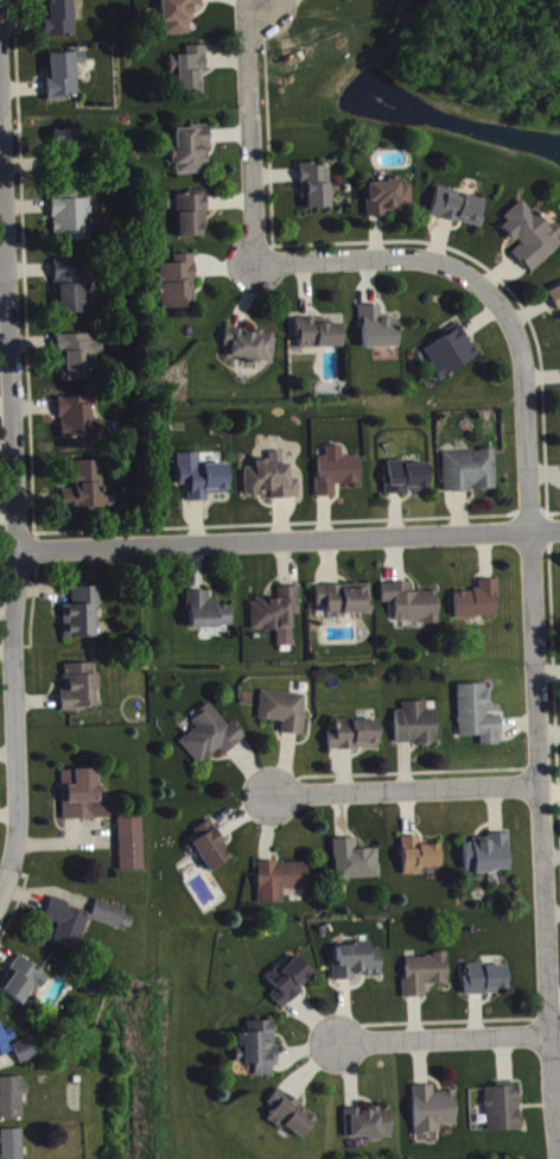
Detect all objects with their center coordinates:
building: (345, 0)
building: (179, 19)
building: (61, 21)
building: (190, 77)
building: (64, 81)
road: (0, 132)
road: (249, 132)
building: (191, 156)
building: (65, 158)
building: (316, 191)
building: (389, 203)
building: (458, 214)
building: (191, 222)
building: (72, 224)
building: (529, 241)
road: (2, 261)
building: (65, 277)
building: (178, 290)
building: (70, 304)
building: (556, 304)
building: (378, 335)
building: (318, 341)
building: (249, 351)
building: (448, 360)
building: (78, 363)
building: (78, 429)
building: (337, 477)
building: (470, 477)
building: (406, 483)
building: (272, 484)
building: (204, 487)
building: (89, 496)
road: (14, 500)
road: (287, 539)
road: (533, 600)
building: (344, 606)
building: (478, 608)
building: (412, 609)
building: (208, 617)
building: (83, 619)
building: (278, 620)
building: (81, 692)
building: (285, 717)
building: (477, 722)
building: (416, 730)
building: (355, 741)
building: (211, 742)
road: (408, 794)
building: (81, 800)
building: (132, 850)
building: (211, 854)
building: (488, 860)
building: (419, 862)
building: (356, 867)
building: (281, 886)
building: (112, 921)
building: (68, 929)
building: (357, 968)
building: (425, 980)
building: (24, 986)
building: (486, 986)
building: (289, 987)
road: (445, 1044)
building: (6, 1046)
building: (259, 1053)
building: (26, 1057)
building: (12, 1103)
building: (503, 1114)
building: (433, 1116)
building: (292, 1121)
building: (369, 1129)
building: (13, 1147)

